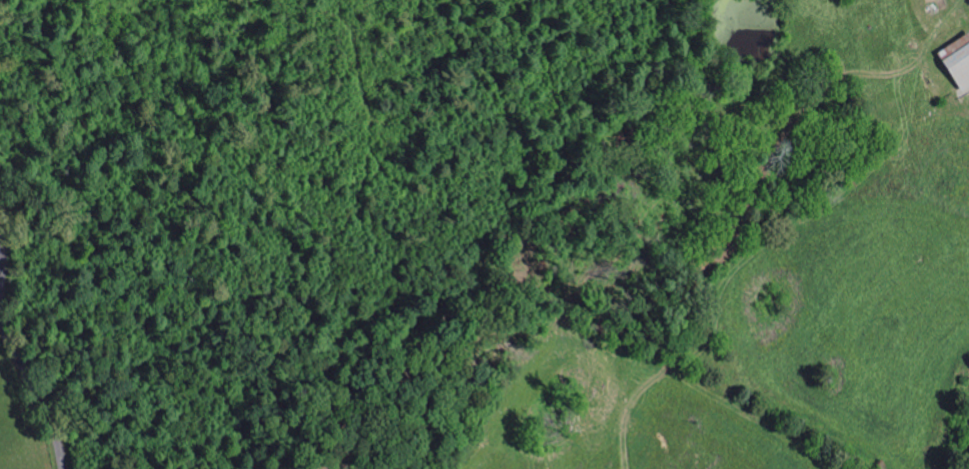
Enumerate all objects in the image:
building: (960, 60)
road: (16, 344)

